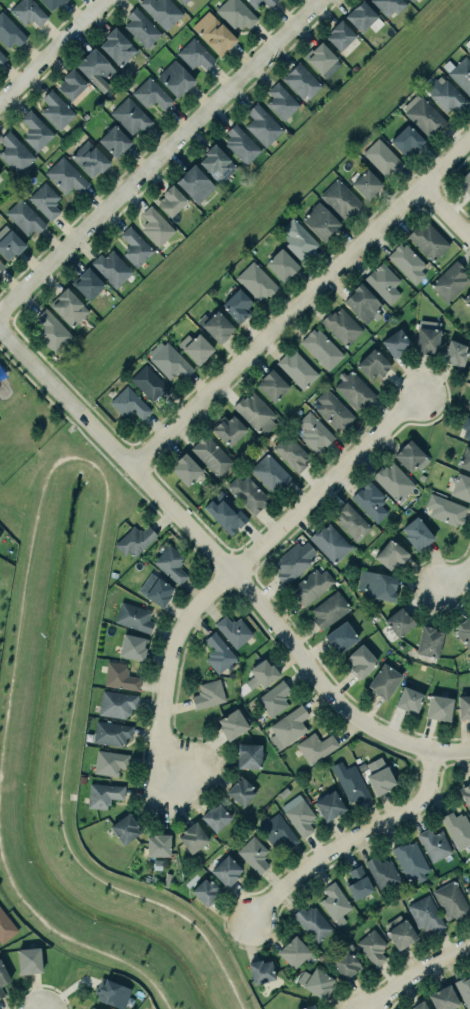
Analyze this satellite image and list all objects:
building: (410, 0)
building: (182, 1)
building: (52, 3)
building: (254, 4)
building: (389, 5)
building: (161, 11)
building: (28, 12)
building: (236, 13)
building: (361, 15)
building: (141, 27)
building: (9, 31)
building: (212, 33)
building: (340, 34)
building: (118, 46)
road: (52, 50)
building: (468, 50)
building: (195, 55)
building: (2, 56)
building: (322, 59)
building: (95, 68)
building: (461, 74)
building: (174, 78)
building: (301, 80)
building: (72, 83)
building: (150, 94)
building: (445, 95)
building: (281, 101)
building: (56, 110)
building: (423, 114)
building: (85, 116)
building: (129, 116)
building: (262, 125)
building: (35, 131)
building: (407, 139)
building: (114, 141)
building: (241, 144)
building: (15, 153)
road: (159, 155)
building: (89, 158)
building: (382, 158)
building: (217, 163)
building: (64, 176)
building: (364, 182)
building: (465, 183)
building: (195, 184)
building: (341, 199)
building: (45, 200)
building: (171, 200)
road: (445, 215)
building: (24, 217)
building: (320, 221)
building: (156, 226)
building: (298, 240)
building: (428, 241)
building: (10, 244)
building: (135, 247)
building: (407, 262)
building: (282, 264)
building: (1, 265)
building: (112, 268)
building: (255, 281)
building: (449, 281)
building: (383, 282)
building: (88, 283)
building: (467, 299)
building: (362, 302)
building: (237, 304)
road: (299, 304)
building: (69, 307)
road: (9, 317)
building: (216, 326)
building: (341, 326)
building: (51, 331)
building: (427, 340)
road: (27, 342)
building: (396, 343)
building: (196, 347)
building: (321, 348)
building: (455, 353)
building: (169, 360)
building: (373, 364)
building: (297, 370)
road: (25, 375)
building: (148, 383)
road: (69, 385)
building: (273, 385)
building: (353, 390)
building: (468, 398)
road: (48, 402)
building: (129, 403)
building: (333, 410)
building: (469, 410)
building: (255, 413)
park: (23, 415)
road: (23, 425)
road: (108, 425)
building: (466, 428)
building: (228, 429)
building: (314, 432)
road: (129, 446)
building: (291, 453)
building: (211, 455)
building: (409, 455)
road: (104, 458)
building: (465, 460)
road: (55, 462)
building: (186, 469)
building: (270, 472)
building: (393, 481)
road: (325, 486)
building: (461, 487)
building: (248, 493)
building: (369, 501)
building: (446, 510)
building: (225, 512)
building: (351, 521)
building: (417, 534)
building: (134, 540)
building: (329, 543)
building: (391, 554)
building: (293, 562)
building: (170, 564)
road: (223, 565)
road: (453, 584)
building: (377, 585)
building: (310, 586)
building: (159, 591)
road: (20, 606)
building: (329, 609)
road: (84, 613)
building: (134, 617)
building: (399, 622)
building: (234, 631)
building: (464, 632)
building: (341, 637)
building: (429, 642)
building: (132, 647)
building: (218, 653)
building: (361, 661)
building: (264, 673)
building: (119, 677)
building: (384, 681)
building: (208, 694)
building: (274, 698)
building: (409, 699)
building: (116, 704)
building: (439, 707)
building: (464, 707)
building: (232, 724)
road: (160, 725)
building: (287, 727)
building: (111, 733)
road: (2, 734)
park: (79, 740)
building: (315, 747)
building: (249, 756)
building: (109, 762)
building: (378, 776)
building: (350, 782)
building: (240, 791)
building: (283, 793)
building: (103, 795)
building: (466, 795)
building: (329, 806)
building: (298, 815)
building: (216, 817)
building: (125, 829)
building: (457, 829)
building: (277, 831)
building: (193, 838)
road: (352, 841)
building: (434, 844)
building: (159, 845)
building: (254, 854)
building: (410, 860)
building: (226, 871)
building: (383, 874)
building: (358, 883)
building: (468, 890)
building: (206, 891)
road: (17, 892)
road: (132, 895)
building: (450, 901)
building: (335, 903)
building: (425, 914)
building: (312, 923)
building: (6, 927)
building: (399, 932)
building: (372, 947)
road: (102, 951)
building: (295, 952)
building: (29, 960)
building: (345, 964)
building: (261, 971)
road: (416, 971)
building: (3, 975)
building: (316, 983)
building: (464, 990)
building: (112, 992)
building: (1, 993)
road: (161, 997)
building: (443, 998)
building: (420, 1005)
building: (309, 1007)
building: (90, 1008)
building: (93, 1008)

